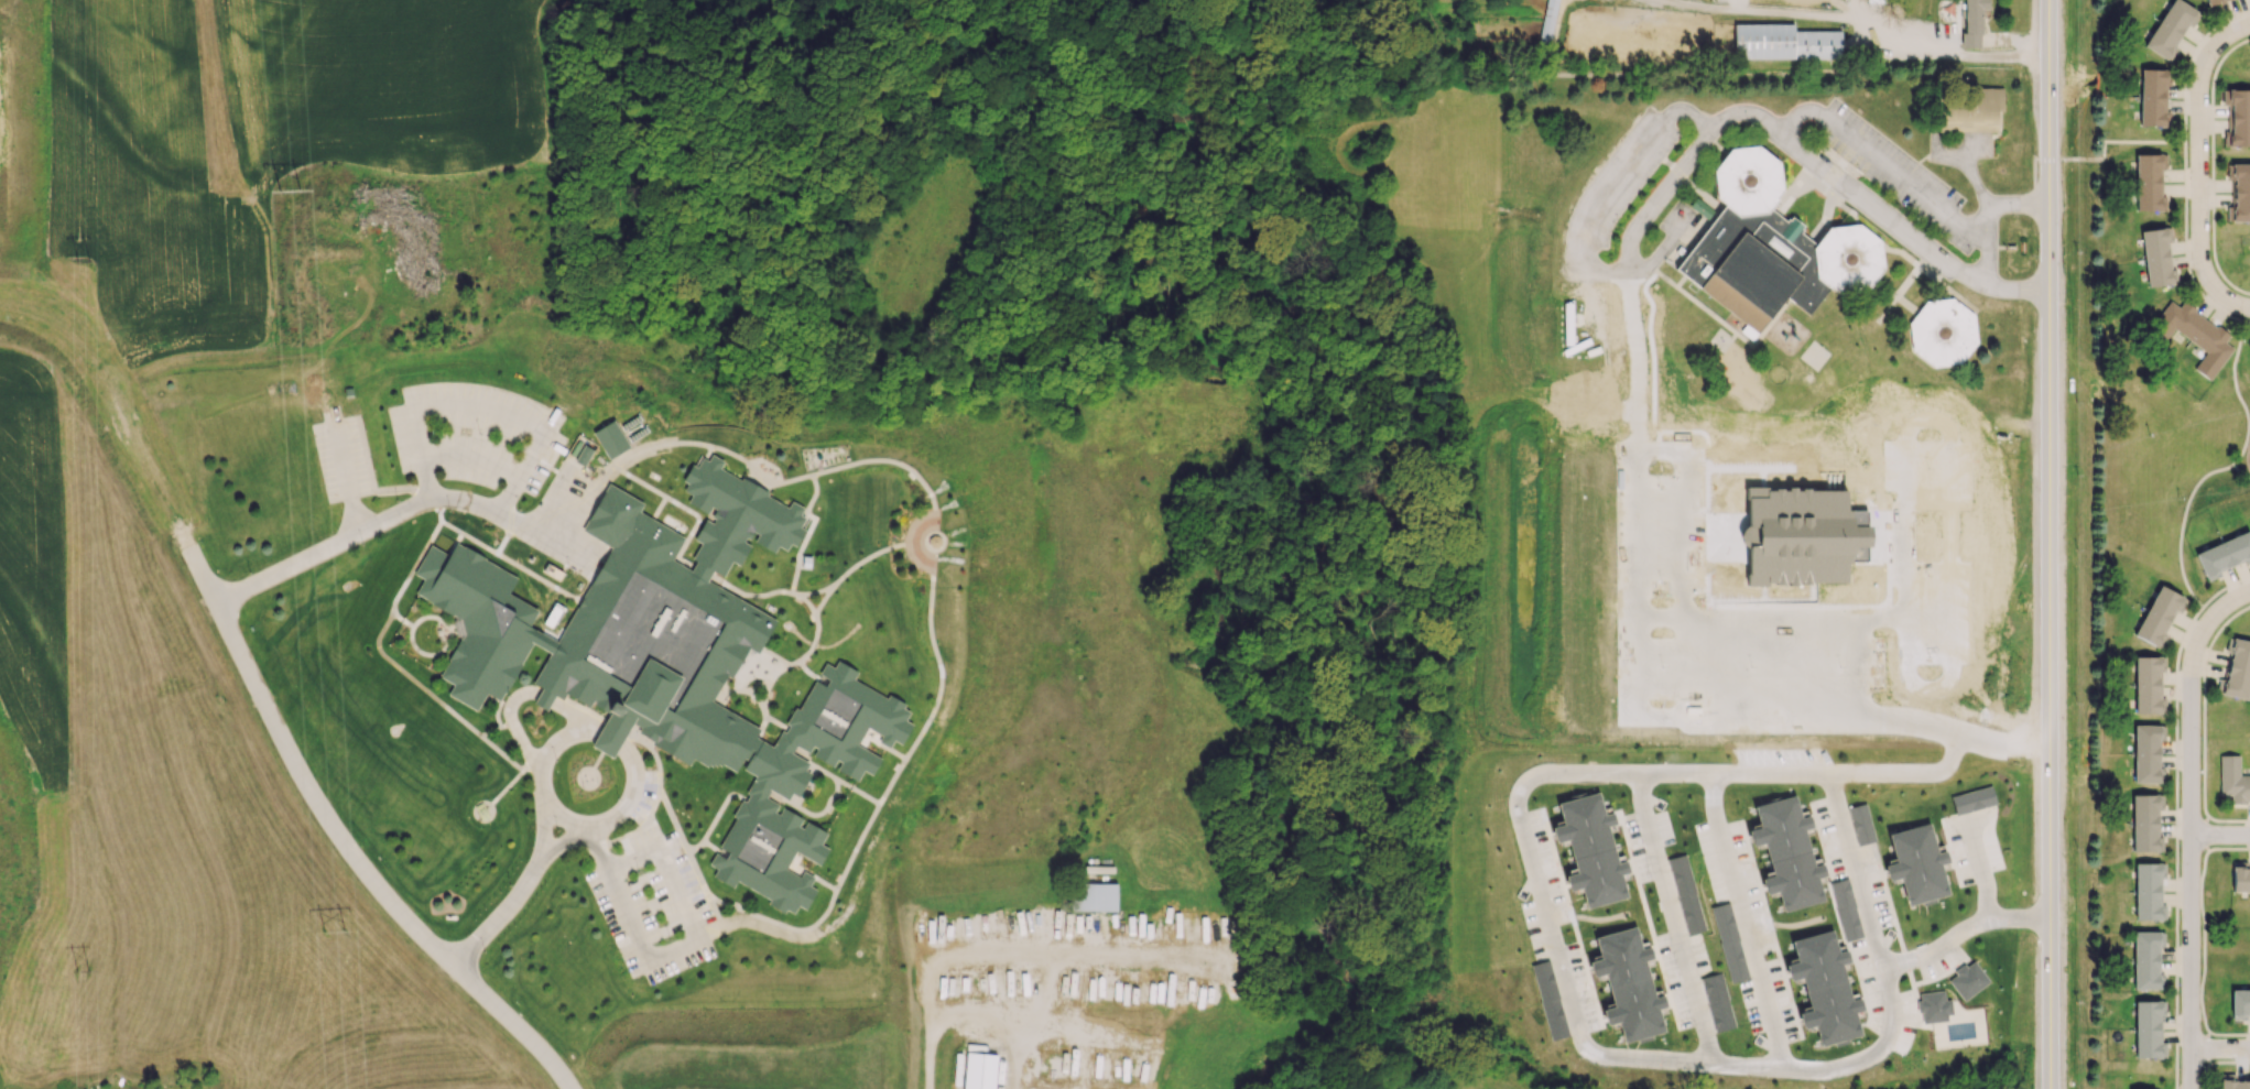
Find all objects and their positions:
building: (1874, 1)
building: (2213, 1)
road: (1859, 19)
building: (1972, 21)
building: (2170, 28)
building: (1784, 42)
building: (2153, 97)
road: (2184, 107)
building: (1971, 111)
building: (2239, 118)
road: (2128, 141)
road: (2034, 159)
road: (2185, 165)
road: (2202, 171)
road: (2183, 174)
road: (1899, 178)
building: (2149, 182)
power tower: (298, 192)
building: (2240, 192)
road: (1993, 203)
road: (1872, 208)
building: (1774, 250)
building: (2156, 258)
road: (2187, 260)
power tower: (86, 265)
road: (1612, 274)
road: (2209, 302)
building: (1942, 331)
building: (2194, 335)
building: (2249, 344)
road: (2238, 393)
road: (514, 417)
building: (610, 439)
building: (580, 453)
parking lot: (339, 456)
road: (469, 457)
road: (2240, 470)
road: (347, 480)
road: (2182, 525)
road: (2030, 544)
road: (2048, 544)
road: (2058, 544)
building: (2224, 555)
road: (316, 559)
road: (2222, 586)
building: (2159, 614)
building: (675, 662)
building: (2237, 669)
building: (2148, 685)
road: (2191, 700)
road: (260, 707)
building: (2146, 754)
road: (632, 762)
road: (537, 769)
flagpole: (577, 772)
building: (2232, 778)
flagpole: (596, 782)
flagpole: (581, 786)
building: (1972, 797)
road: (562, 819)
building: (2145, 823)
building: (1860, 824)
road: (544, 827)
road: (2220, 837)
road: (565, 838)
road: (1522, 840)
road: (2176, 845)
building: (1590, 849)
building: (1786, 852)
flagpole: (519, 859)
flagpole: (515, 867)
building: (1912, 869)
road: (1850, 870)
flagpole: (510, 872)
building: (2240, 876)
flagpole: (507, 878)
flagpole: (548, 878)
flagpole: (544, 883)
flagpole: (502, 884)
flagpole: (541, 890)
flagpole: (497, 891)
building: (2148, 891)
building: (1685, 893)
flagpole: (535, 895)
flagpole: (492, 896)
building: (1093, 896)
flagpole: (532, 901)
flagpole: (488, 902)
parking lot: (652, 904)
flagpole: (483, 907)
road: (502, 908)
flagpole: (528, 908)
building: (1845, 908)
flagpole: (478, 913)
flagpole: (521, 914)
road: (1667, 917)
flagpole: (472, 918)
road: (1740, 918)
flagpole: (517, 919)
flagpole: (511, 925)
road: (1959, 929)
power tower: (343, 930)
flagpole: (507, 930)
flagpole: (502, 936)
flagpole: (497, 941)
building: (1728, 941)
road: (675, 946)
building: (2146, 959)
road: (2191, 962)
power tower: (88, 970)
building: (1967, 979)
building: (1628, 984)
building: (1824, 988)
building: (1548, 999)
building: (1717, 1001)
building: (2240, 1002)
building: (1933, 1006)
building: (2148, 1028)
road: (2220, 1052)
road: (1013, 1055)
building: (978, 1070)
building: (2232, 1082)
building: (2129, 1088)

